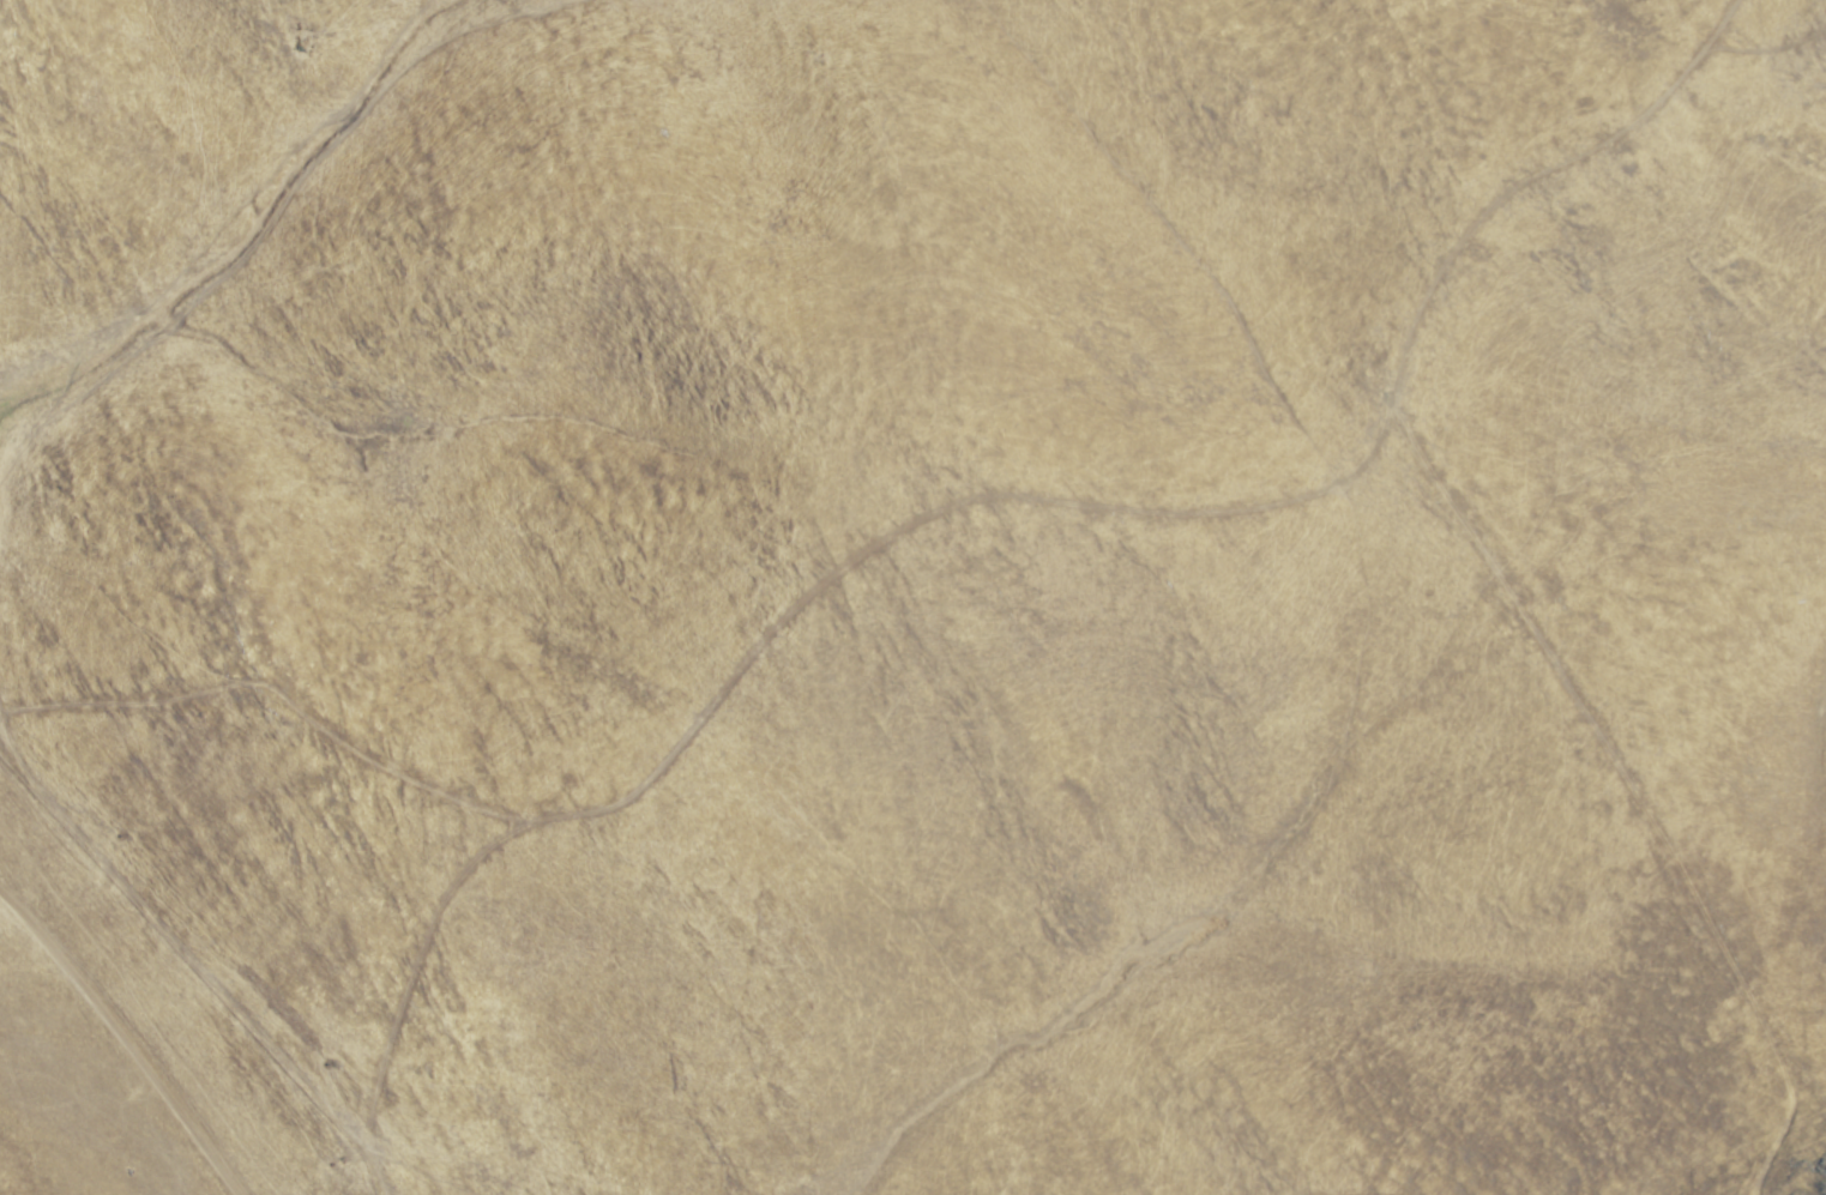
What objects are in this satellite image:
road: (140, 1038)

